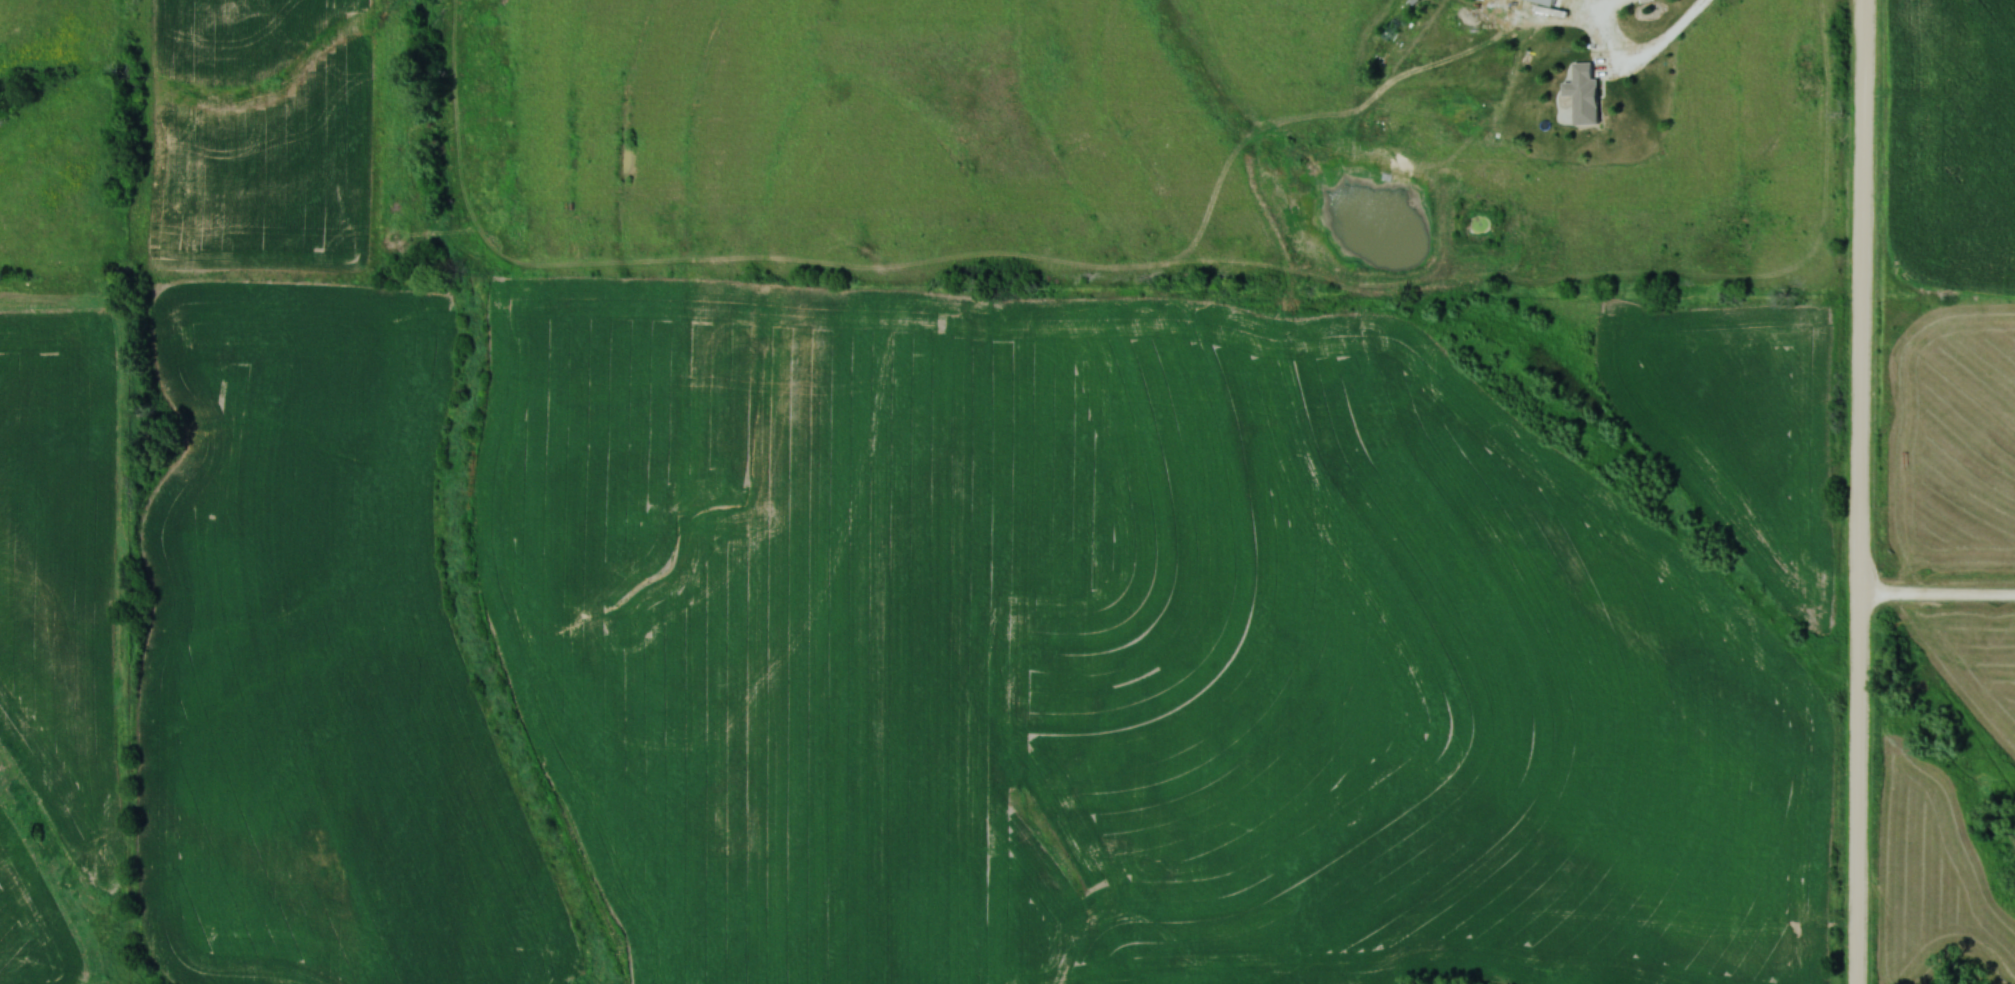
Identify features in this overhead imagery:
building: (1551, 2)
road: (1646, 50)
building: (1590, 92)
road: (1862, 144)
road: (1937, 592)
road: (1860, 636)

